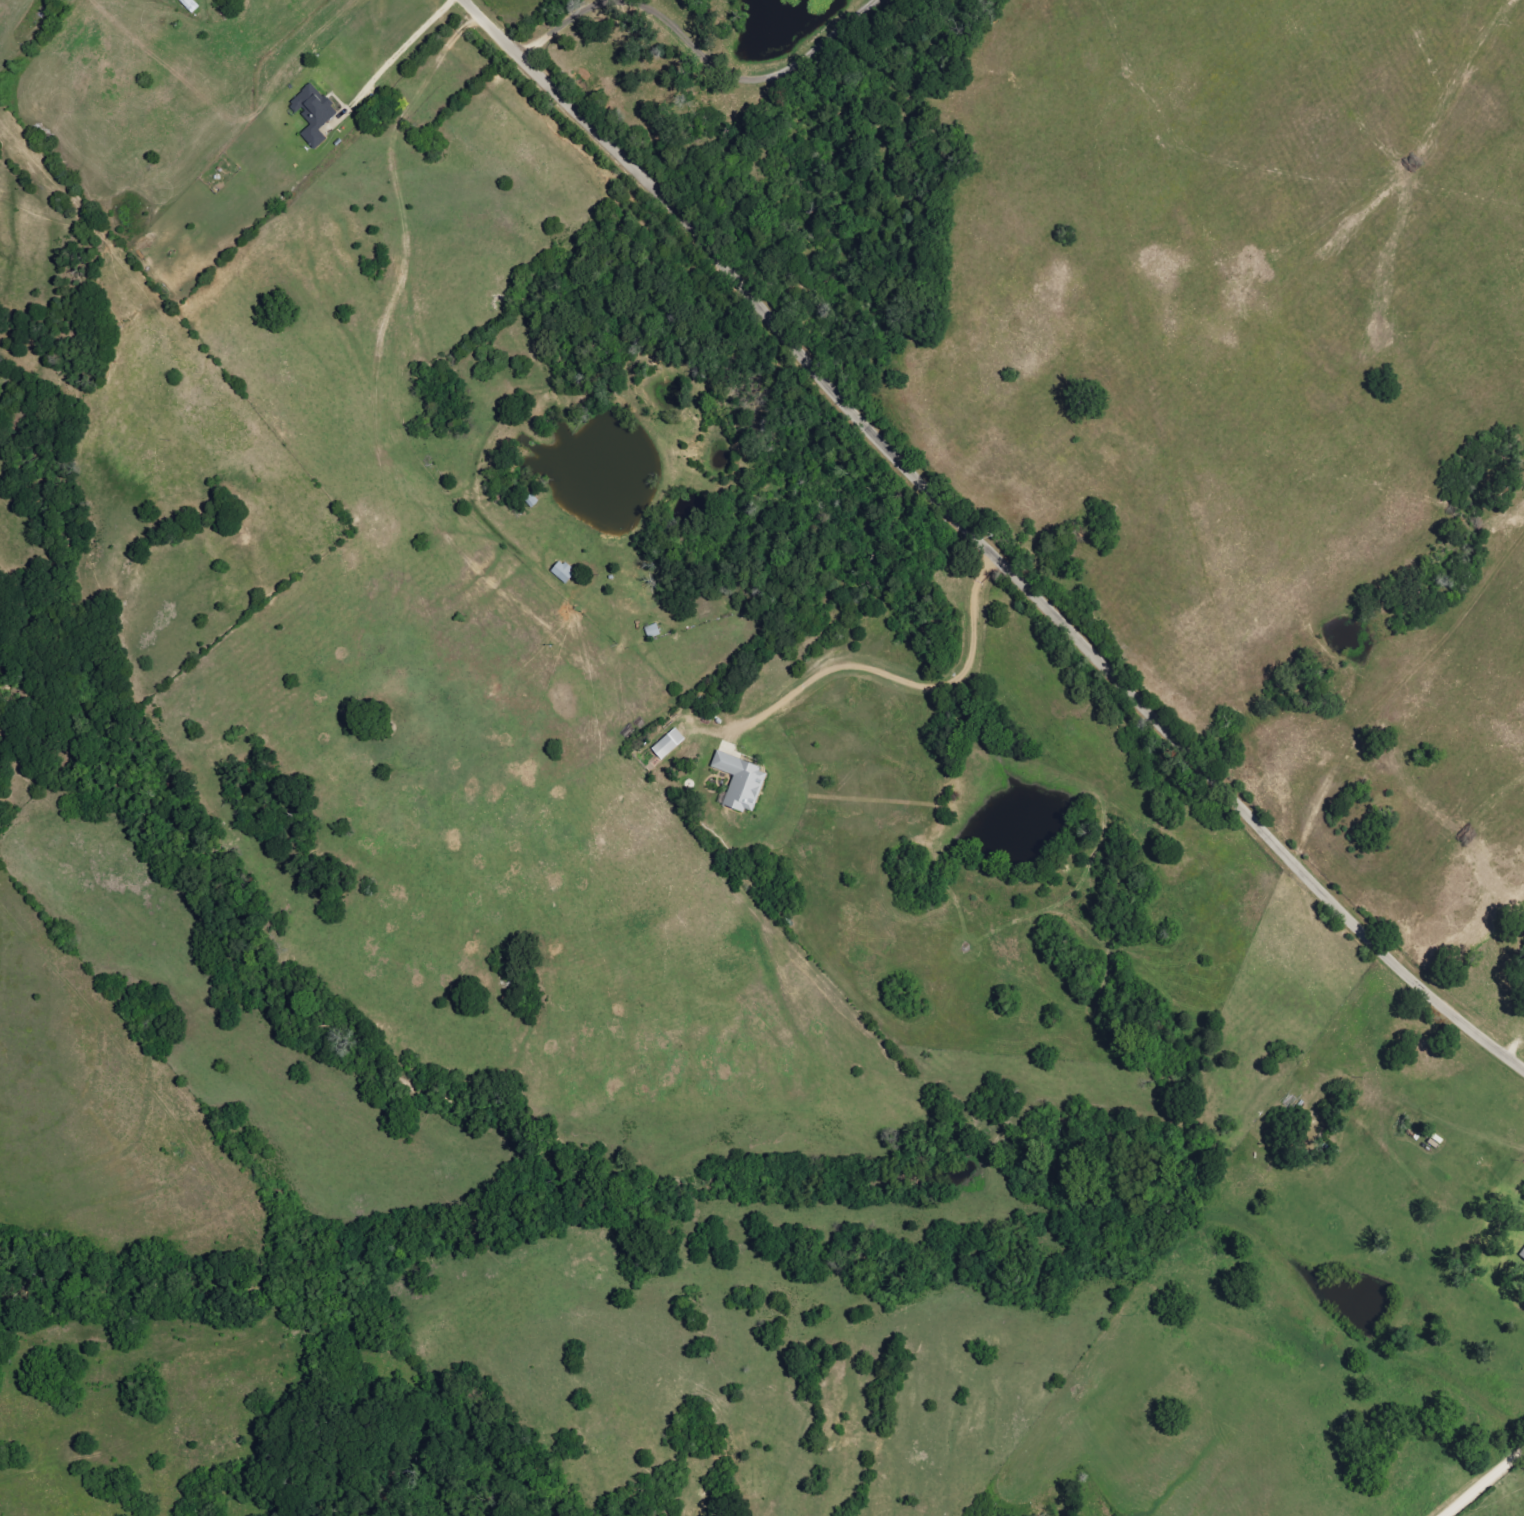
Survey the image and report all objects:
road: (566, 24)
road: (377, 63)
road: (767, 74)
building: (313, 114)
road: (382, 373)
road: (988, 540)
building: (562, 572)
building: (668, 744)
building: (740, 782)
building: (1522, 1254)
road: (1485, 1484)

